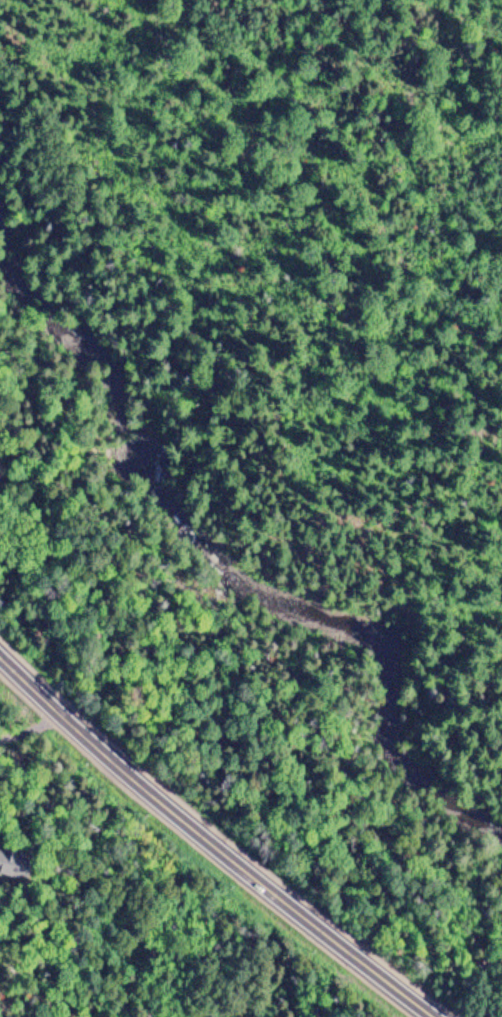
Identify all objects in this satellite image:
river: (222, 528)
road: (210, 842)
building: (9, 868)

